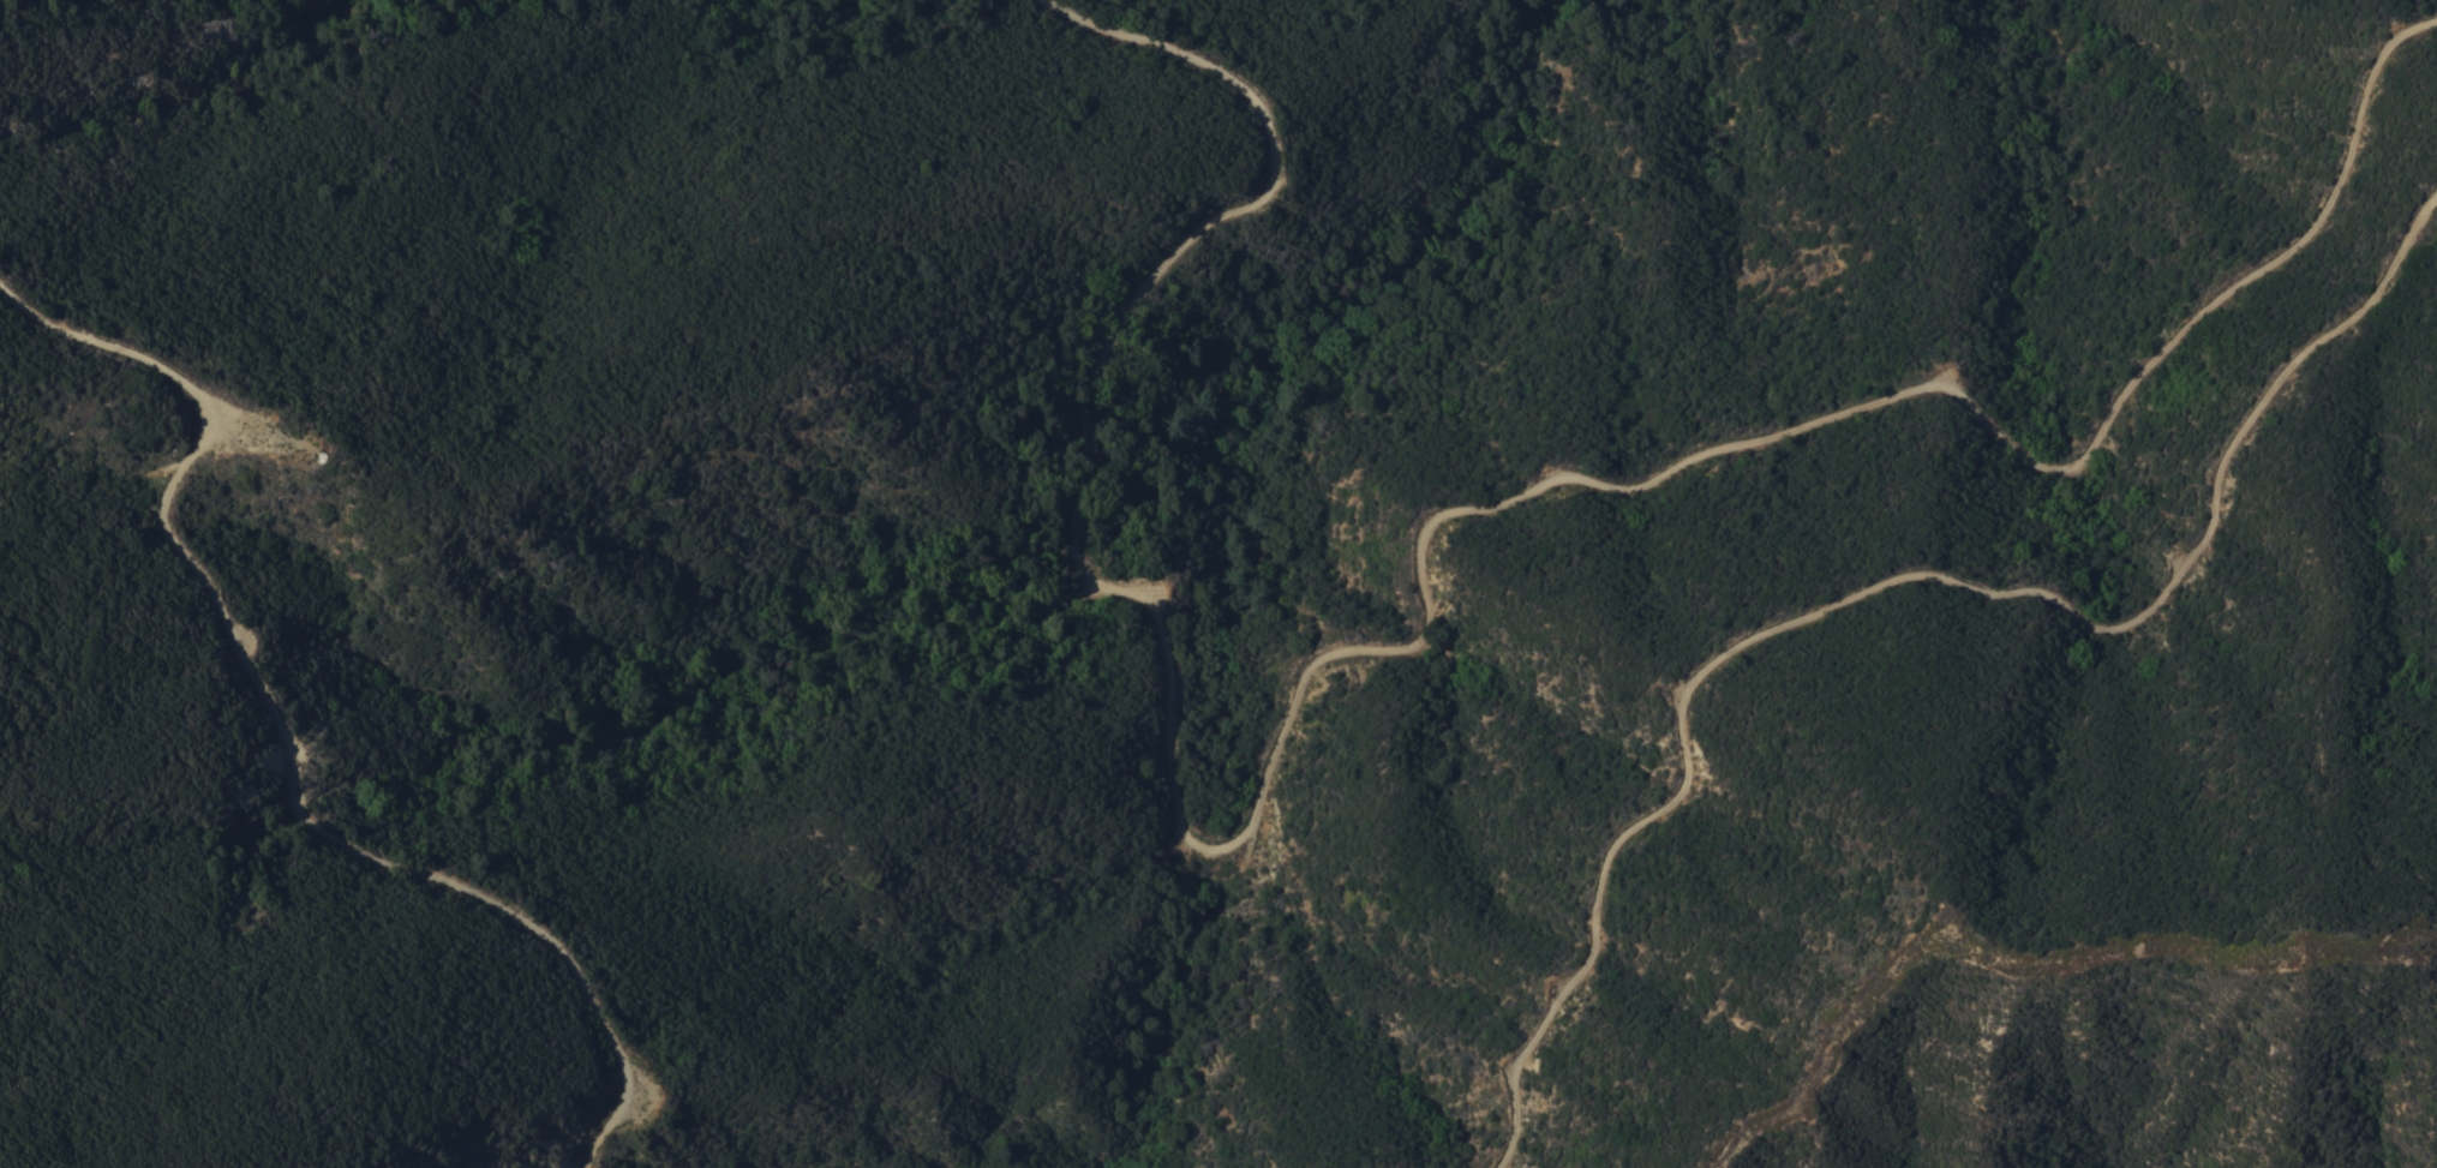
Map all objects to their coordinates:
road: (1902, 579)
road: (1397, 647)
road: (285, 737)

